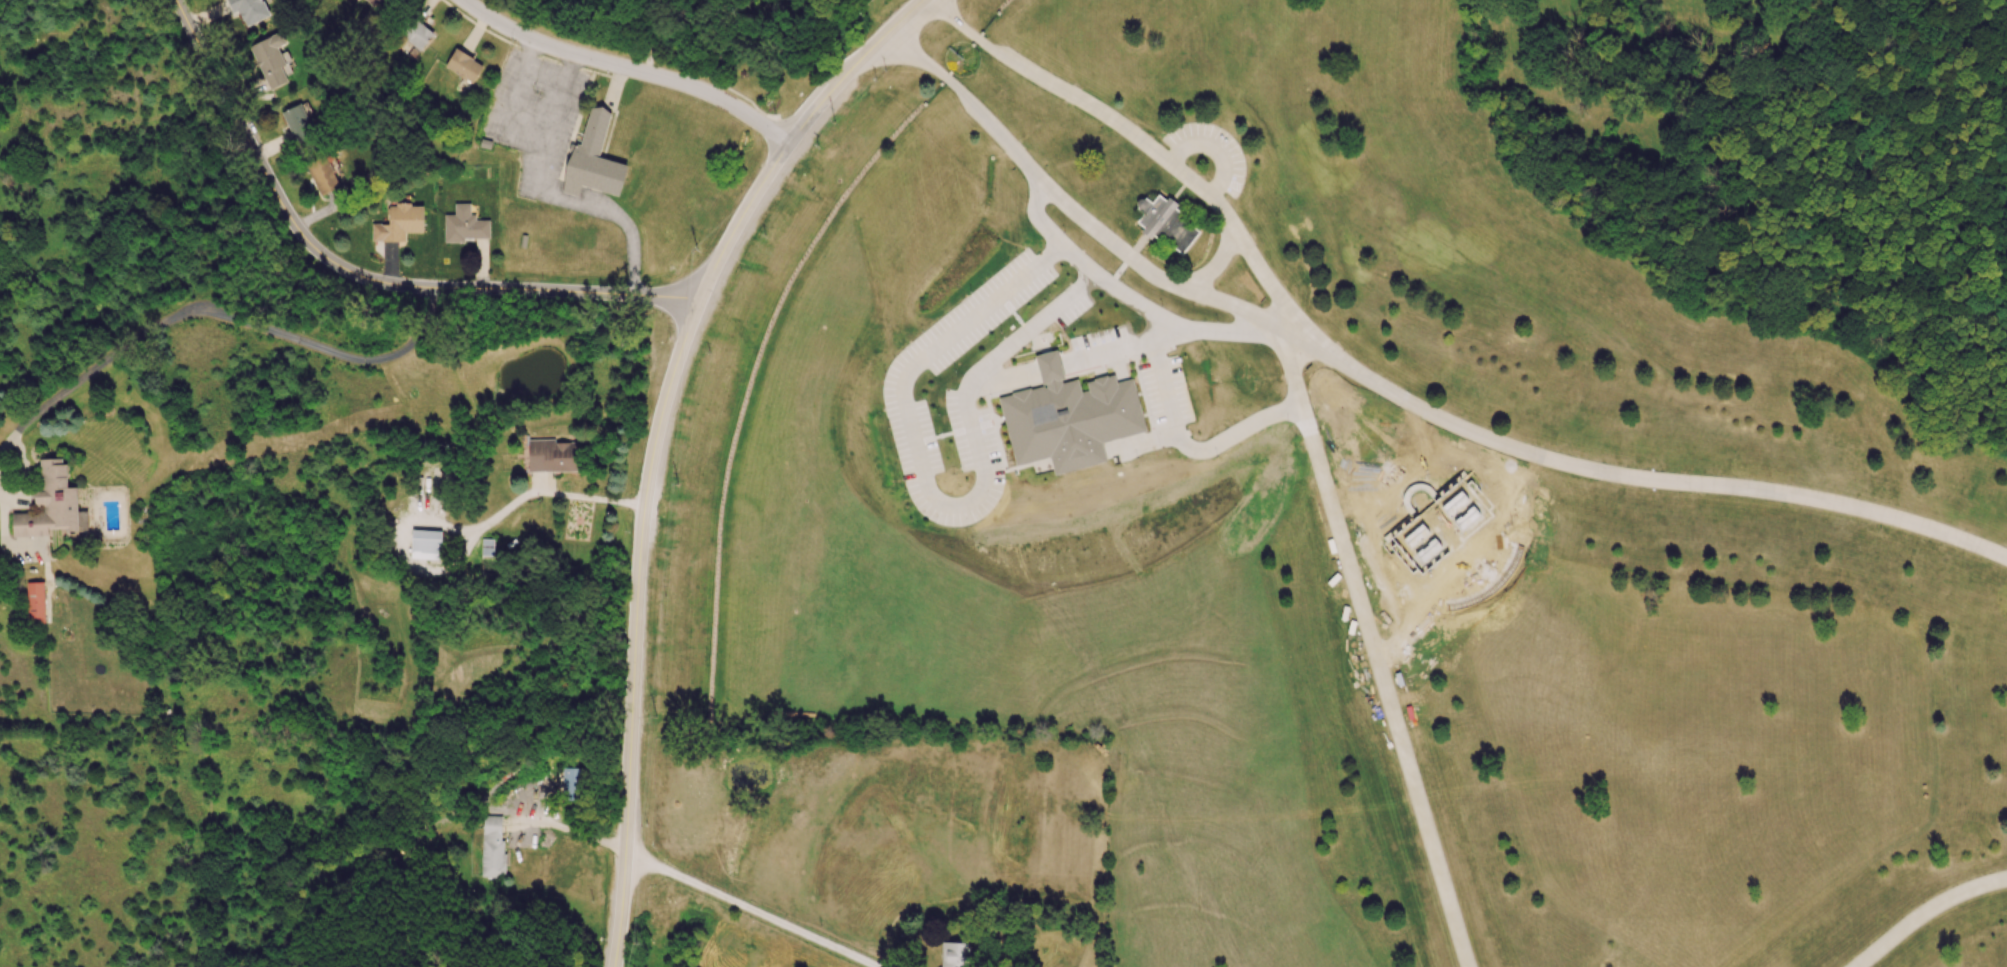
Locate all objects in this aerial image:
building: (372, 2)
building: (249, 9)
building: (415, 33)
building: (270, 59)
building: (463, 65)
road: (625, 67)
road: (508, 108)
parking lot: (535, 115)
building: (298, 124)
road: (242, 128)
road: (1136, 141)
road: (1212, 151)
parking lot: (1209, 152)
building: (593, 159)
building: (323, 175)
road: (551, 193)
road: (1071, 203)
building: (399, 223)
building: (1167, 224)
building: (464, 225)
road: (505, 287)
road: (209, 310)
road: (1180, 326)
road: (1123, 348)
road: (1048, 365)
parking lot: (1015, 369)
road: (999, 382)
building: (1071, 421)
road: (656, 441)
road: (1194, 446)
building: (551, 456)
park: (1404, 463)
road: (921, 477)
road: (1634, 477)
road: (592, 497)
building: (51, 504)
building: (425, 544)
building: (487, 547)
building: (36, 602)
road: (1375, 647)
building: (573, 784)
building: (492, 846)
road: (755, 909)
road: (1925, 913)
building: (955, 954)

